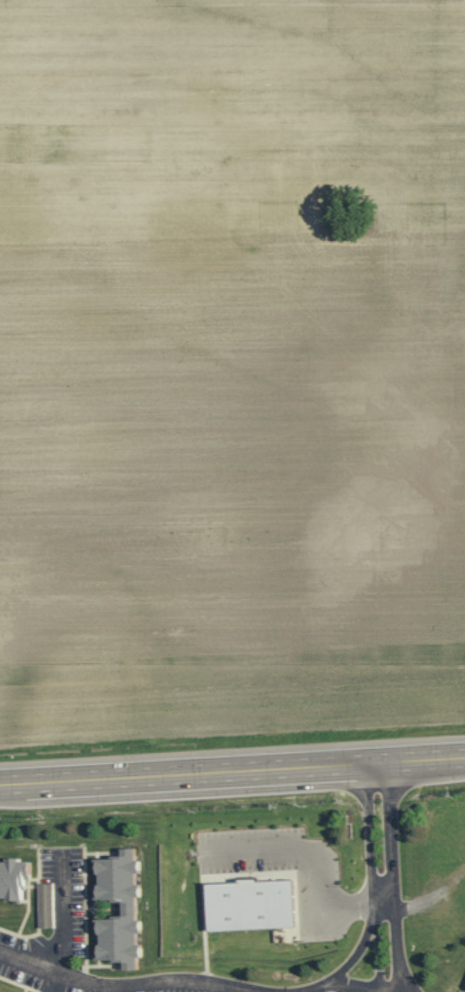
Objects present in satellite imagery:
road: (232, 772)
road: (317, 860)
road: (372, 877)
road: (393, 877)
building: (13, 878)
building: (249, 905)
building: (46, 906)
building: (129, 910)
road: (59, 915)
road: (353, 956)
road: (55, 984)
road: (143, 984)
road: (347, 986)

